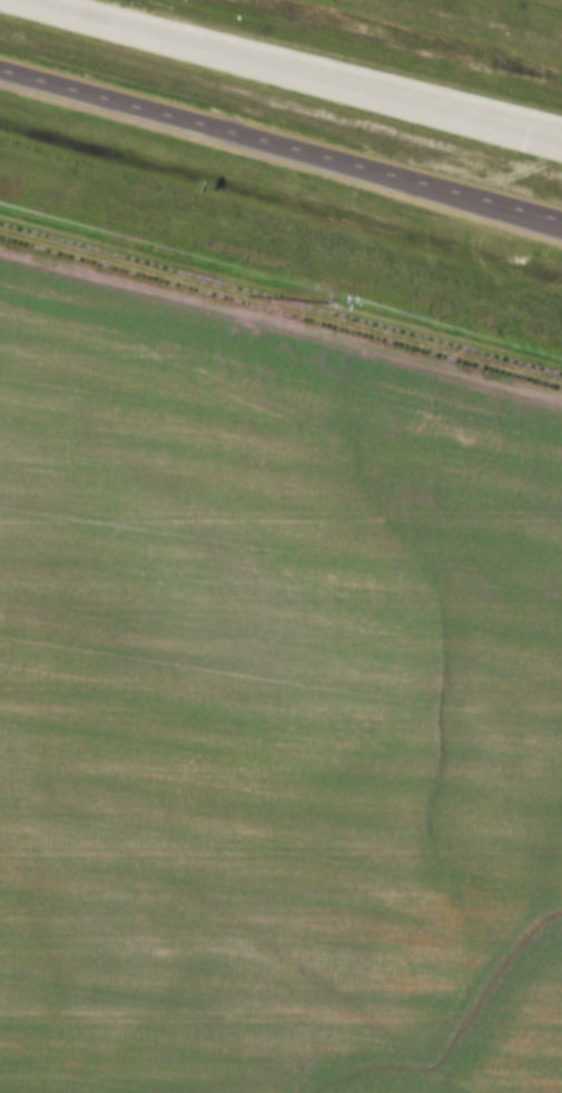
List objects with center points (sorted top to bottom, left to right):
road: (280, 72)
road: (280, 151)

